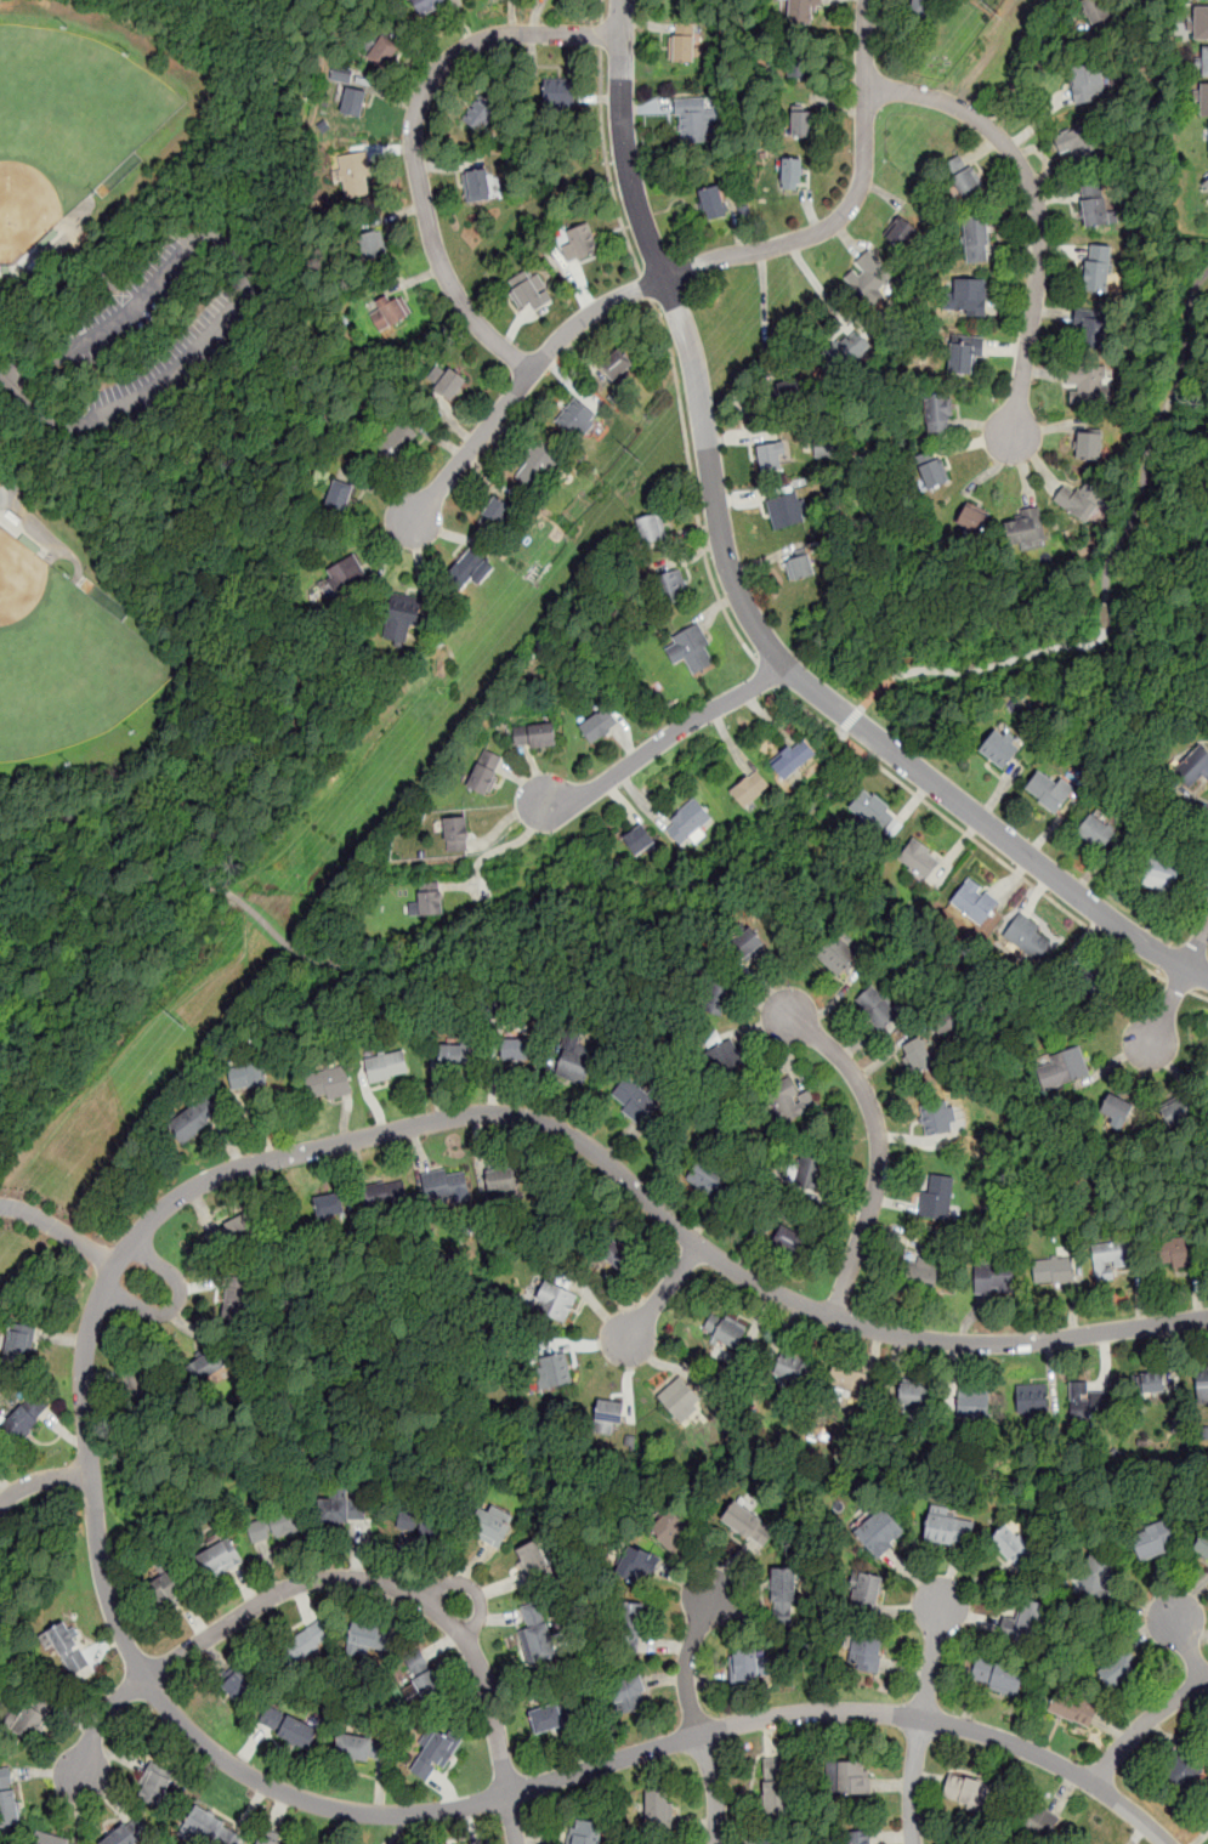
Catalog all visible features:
building: (429, 5)
building: (923, 7)
power tower: (989, 7)
road: (602, 10)
building: (803, 10)
building: (1098, 15)
building: (1201, 23)
road: (602, 33)
building: (686, 51)
building: (382, 52)
building: (800, 61)
building: (1204, 61)
road: (1031, 69)
building: (1087, 84)
building: (558, 93)
building: (1204, 100)
building: (353, 103)
park: (72, 113)
building: (480, 113)
building: (694, 121)
building: (801, 123)
road: (413, 138)
building: (1079, 143)
road: (607, 161)
building: (792, 171)
building: (353, 176)
building: (962, 177)
building: (483, 183)
building: (1206, 186)
building: (713, 200)
road: (851, 203)
building: (1096, 205)
road: (1039, 214)
road: (256, 219)
building: (901, 232)
building: (976, 240)
building: (578, 244)
building: (367, 248)
road: (53, 250)
road: (242, 250)
road: (93, 257)
building: (1095, 267)
road: (270, 268)
building: (867, 273)
road: (5, 280)
road: (646, 285)
building: (526, 289)
building: (971, 296)
building: (385, 314)
parking lot: (164, 325)
building: (1089, 327)
building: (964, 352)
building: (844, 354)
building: (616, 364)
road: (521, 381)
building: (449, 384)
building: (1089, 384)
building: (789, 390)
road: (38, 396)
building: (936, 414)
building: (575, 420)
road: (274, 436)
road: (1157, 439)
building: (397, 441)
building: (1089, 446)
power tower: (631, 455)
building: (772, 455)
road: (28, 463)
building: (537, 466)
building: (931, 472)
park: (161, 481)
road: (692, 486)
building: (340, 493)
building: (1078, 499)
building: (787, 509)
building: (494, 512)
building: (971, 518)
building: (1025, 526)
building: (651, 528)
road: (49, 538)
road: (51, 551)
building: (800, 563)
building: (469, 569)
building: (348, 574)
building: (670, 585)
road: (739, 594)
road: (1104, 614)
building: (401, 618)
building: (691, 648)
park: (68, 665)
road: (983, 666)
road: (767, 675)
road: (1033, 679)
road: (807, 709)
road: (850, 719)
building: (599, 725)
building: (534, 736)
road: (664, 738)
building: (1000, 747)
building: (792, 756)
building: (1195, 766)
building: (484, 771)
building: (749, 787)
building: (1048, 789)
building: (872, 808)
building: (686, 821)
building: (1095, 830)
building: (456, 833)
building: (637, 839)
road: (494, 847)
building: (919, 857)
road: (1016, 872)
building: (1161, 874)
building: (430, 897)
building: (975, 901)
building: (1028, 936)
building: (747, 943)
road: (1198, 946)
road: (450, 948)
building: (836, 954)
building: (1090, 981)
road: (1178, 986)
building: (715, 994)
road: (1198, 994)
building: (877, 1008)
road: (1168, 1008)
power tower: (177, 1020)
building: (514, 1048)
building: (915, 1054)
building: (455, 1055)
building: (726, 1059)
building: (575, 1061)
building: (386, 1065)
building: (1061, 1068)
building: (246, 1074)
building: (328, 1083)
building: (630, 1094)
building: (787, 1103)
building: (1116, 1110)
building: (1172, 1113)
building: (938, 1118)
building: (194, 1120)
road: (880, 1150)
building: (809, 1171)
building: (707, 1176)
building: (509, 1185)
building: (446, 1187)
building: (937, 1195)
building: (386, 1196)
building: (329, 1205)
road: (202, 1208)
road: (58, 1230)
building: (233, 1231)
building: (789, 1238)
building: (1180, 1250)
building: (616, 1254)
building: (1110, 1258)
building: (1053, 1271)
building: (920, 1272)
building: (994, 1278)
road: (205, 1284)
road: (662, 1294)
building: (236, 1301)
road: (177, 1303)
building: (555, 1303)
road: (191, 1327)
building: (725, 1330)
road: (59, 1338)
building: (16, 1341)
building: (205, 1363)
building: (790, 1366)
building: (552, 1372)
road: (103, 1375)
building: (846, 1381)
building: (1146, 1383)
building: (1202, 1384)
building: (136, 1392)
building: (914, 1395)
building: (679, 1397)
building: (1032, 1398)
building: (1088, 1401)
building: (974, 1402)
building: (22, 1417)
building: (608, 1417)
road: (64, 1429)
road: (85, 1429)
road: (41, 1480)
road: (5, 1490)
building: (339, 1505)
building: (421, 1521)
building: (747, 1522)
building: (273, 1525)
building: (489, 1525)
building: (669, 1525)
building: (949, 1528)
building: (880, 1532)
building: (1155, 1542)
building: (1014, 1545)
building: (1202, 1545)
road: (357, 1548)
building: (219, 1556)
road: (401, 1558)
building: (532, 1560)
road: (476, 1562)
building: (635, 1562)
road: (728, 1565)
road: (270, 1566)
road: (697, 1568)
road: (346, 1578)
building: (1096, 1578)
road: (685, 1581)
road: (500, 1584)
road: (244, 1585)
building: (163, 1587)
building: (868, 1588)
road: (472, 1589)
building: (782, 1591)
road: (305, 1604)
road: (398, 1610)
road: (741, 1611)
road: (501, 1617)
road: (195, 1618)
building: (1023, 1621)
building: (628, 1625)
building: (539, 1635)
building: (368, 1639)
building: (302, 1641)
road: (1187, 1644)
building: (64, 1645)
road: (442, 1645)
road: (104, 1646)
road: (663, 1646)
building: (864, 1652)
road: (217, 1655)
road: (932, 1656)
road: (686, 1663)
building: (745, 1663)
park: (2, 1666)
building: (1116, 1672)
building: (993, 1674)
road: (664, 1676)
building: (419, 1678)
road: (708, 1680)
building: (239, 1684)
building: (626, 1692)
building: (1072, 1707)
building: (556, 1713)
building: (30, 1714)
road: (74, 1717)
building: (287, 1724)
road: (1144, 1725)
road: (771, 1737)
road: (584, 1743)
road: (250, 1746)
building: (359, 1746)
building: (432, 1752)
road: (123, 1758)
road: (49, 1772)
building: (1180, 1775)
building: (850, 1777)
road: (911, 1781)
building: (159, 1785)
road: (380, 1786)
road: (447, 1787)
road: (715, 1787)
building: (773, 1788)
building: (968, 1791)
road: (109, 1795)
building: (8, 1800)
road: (79, 1809)
building: (657, 1809)
building: (1040, 1822)
road: (694, 1823)
road: (470, 1825)
building: (209, 1826)
road: (399, 1829)
building: (129, 1832)
building: (586, 1832)
building: (857, 1838)
building: (49, 1839)
road: (544, 1839)
building: (265, 1843)
building: (1087, 1843)

